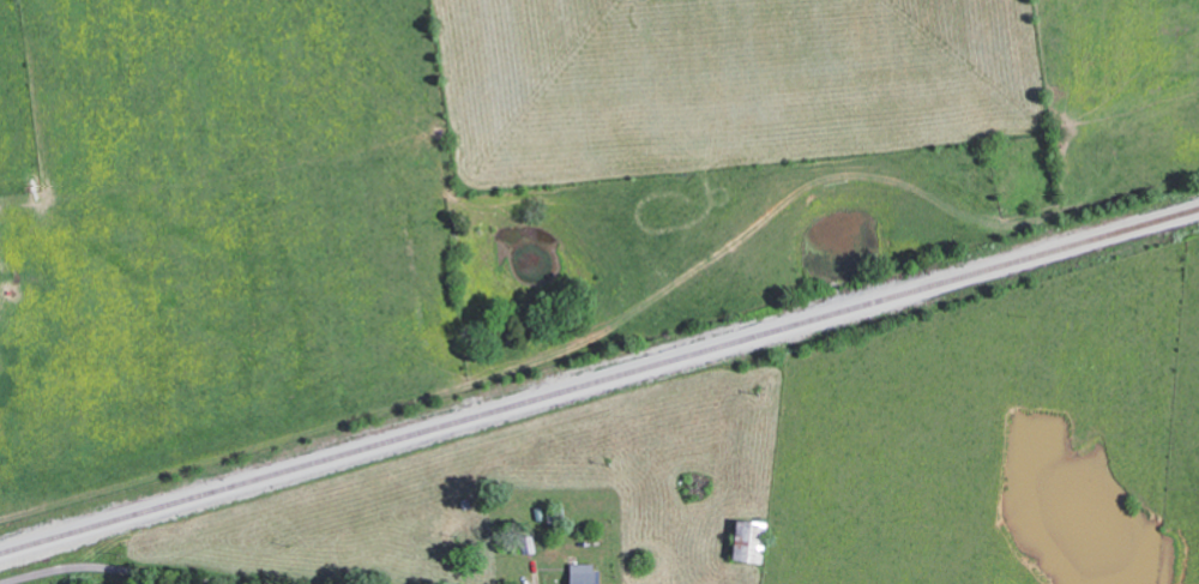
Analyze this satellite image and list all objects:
railway: (599, 377)
road: (109, 570)
building: (589, 573)

